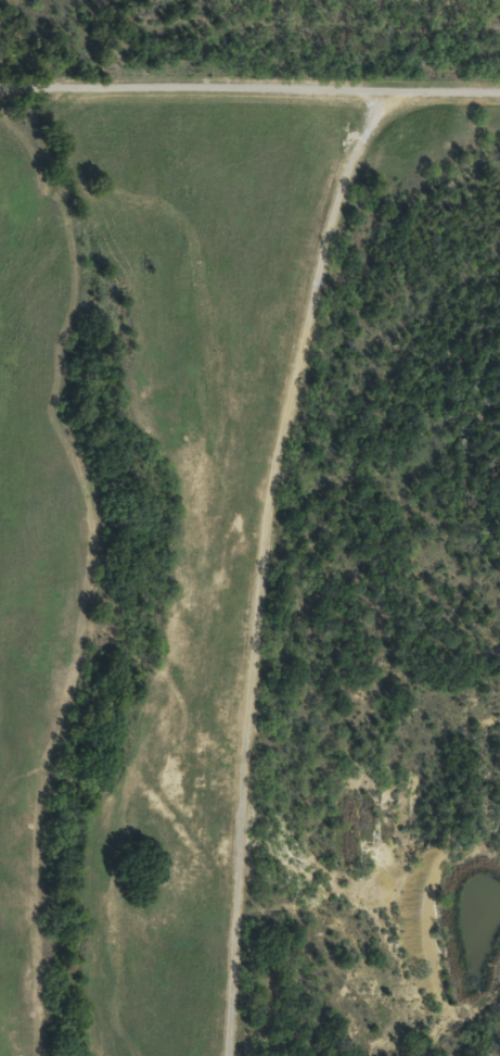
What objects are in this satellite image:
road: (249, 113)

